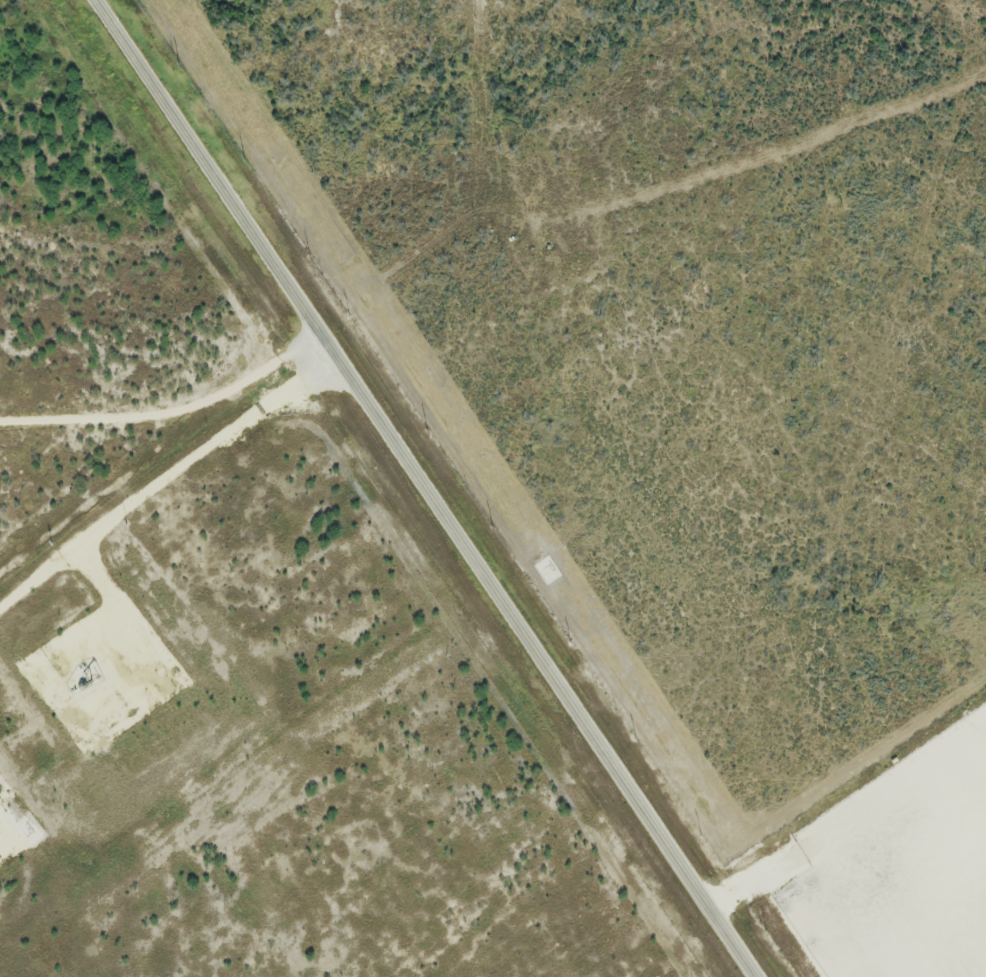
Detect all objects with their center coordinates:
road: (168, 406)
road: (165, 480)
road: (427, 489)
road: (142, 652)

